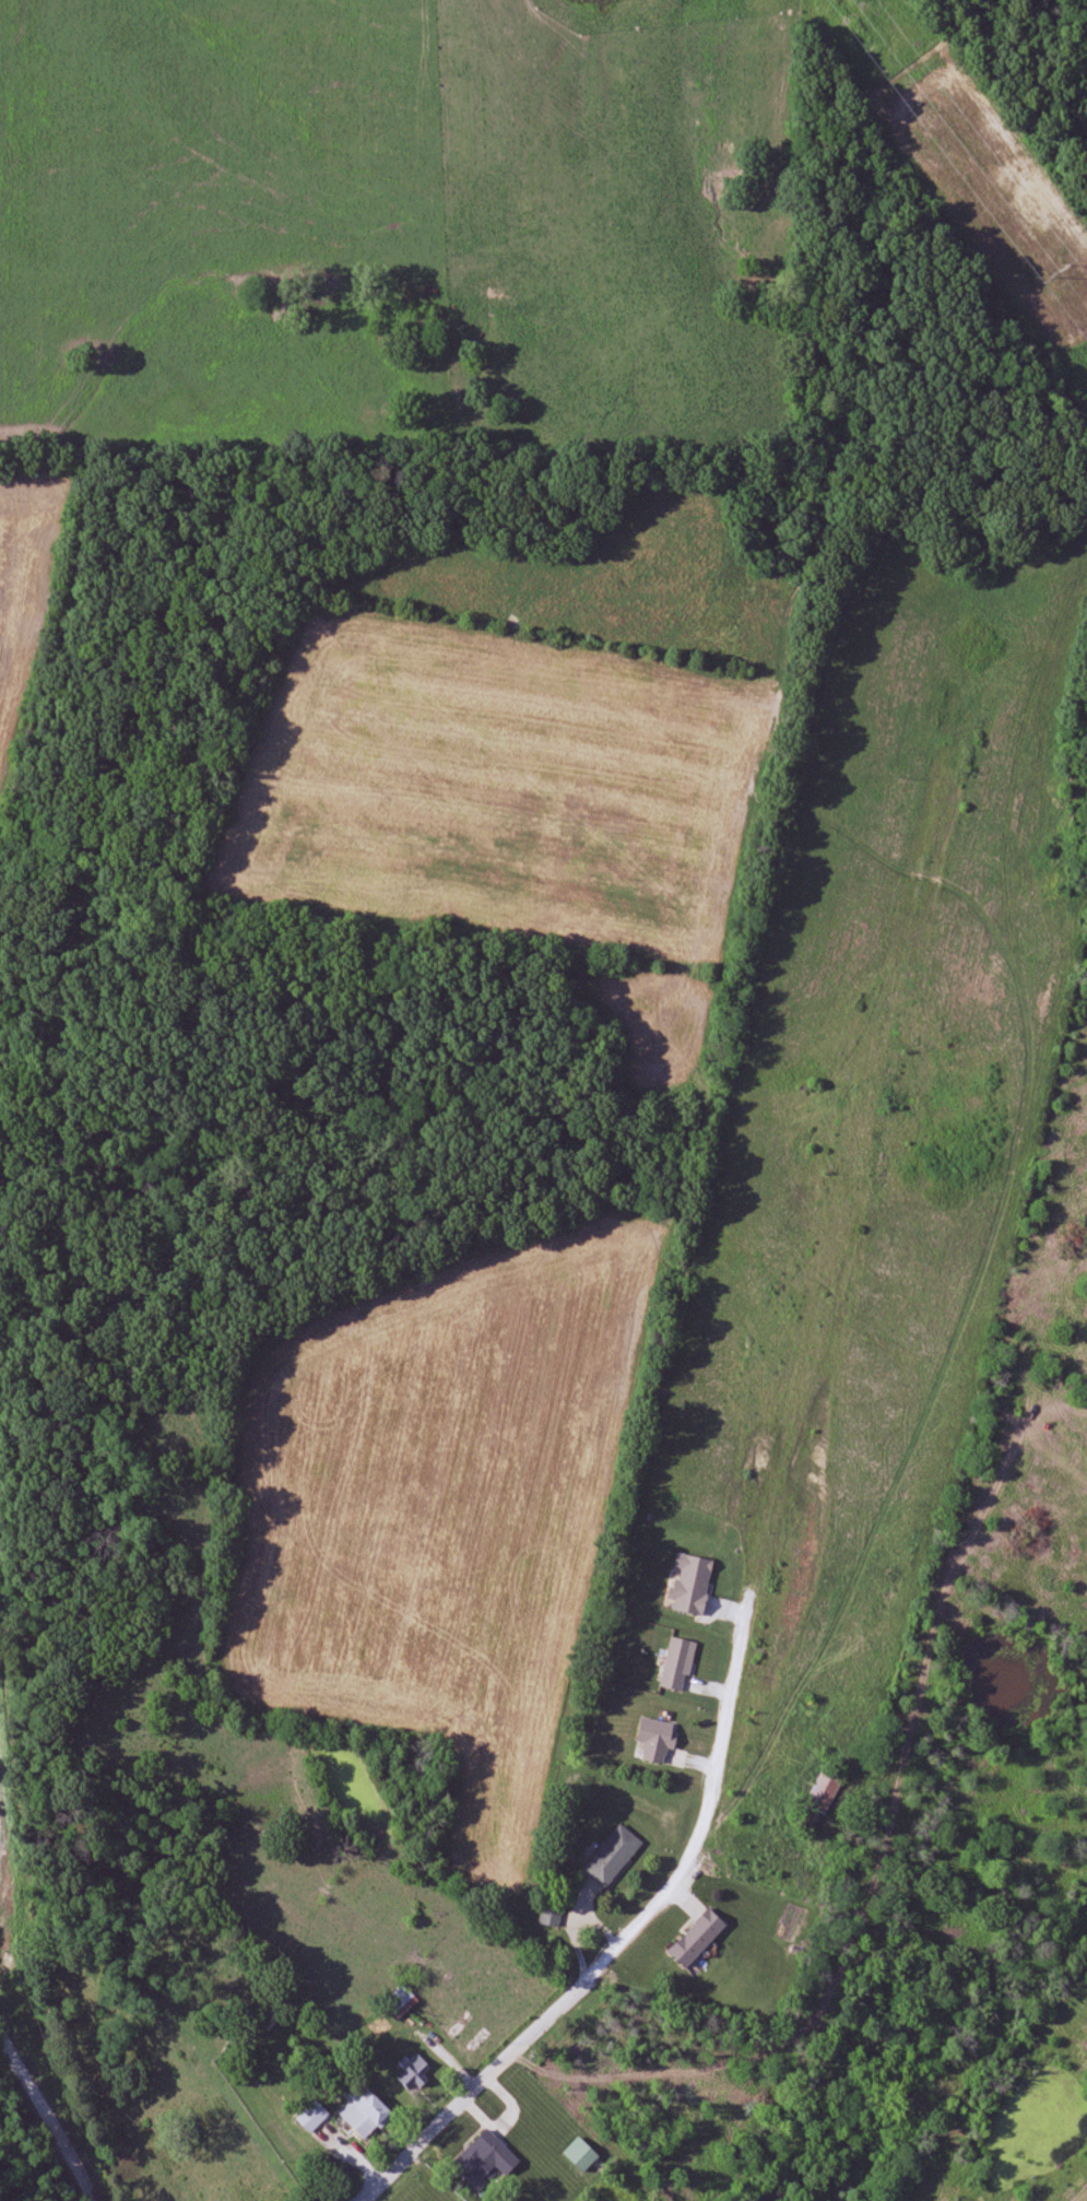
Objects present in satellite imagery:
power tower: (1058, 272)
building: (692, 1584)
building: (677, 1666)
building: (657, 1740)
building: (822, 1798)
building: (613, 1857)
building: (551, 1915)
road: (634, 1939)
building: (697, 1939)
building: (400, 2003)
building: (270, 2018)
building: (414, 2073)
building: (367, 2117)
road: (55, 2118)
building: (581, 2155)
building: (484, 2162)

